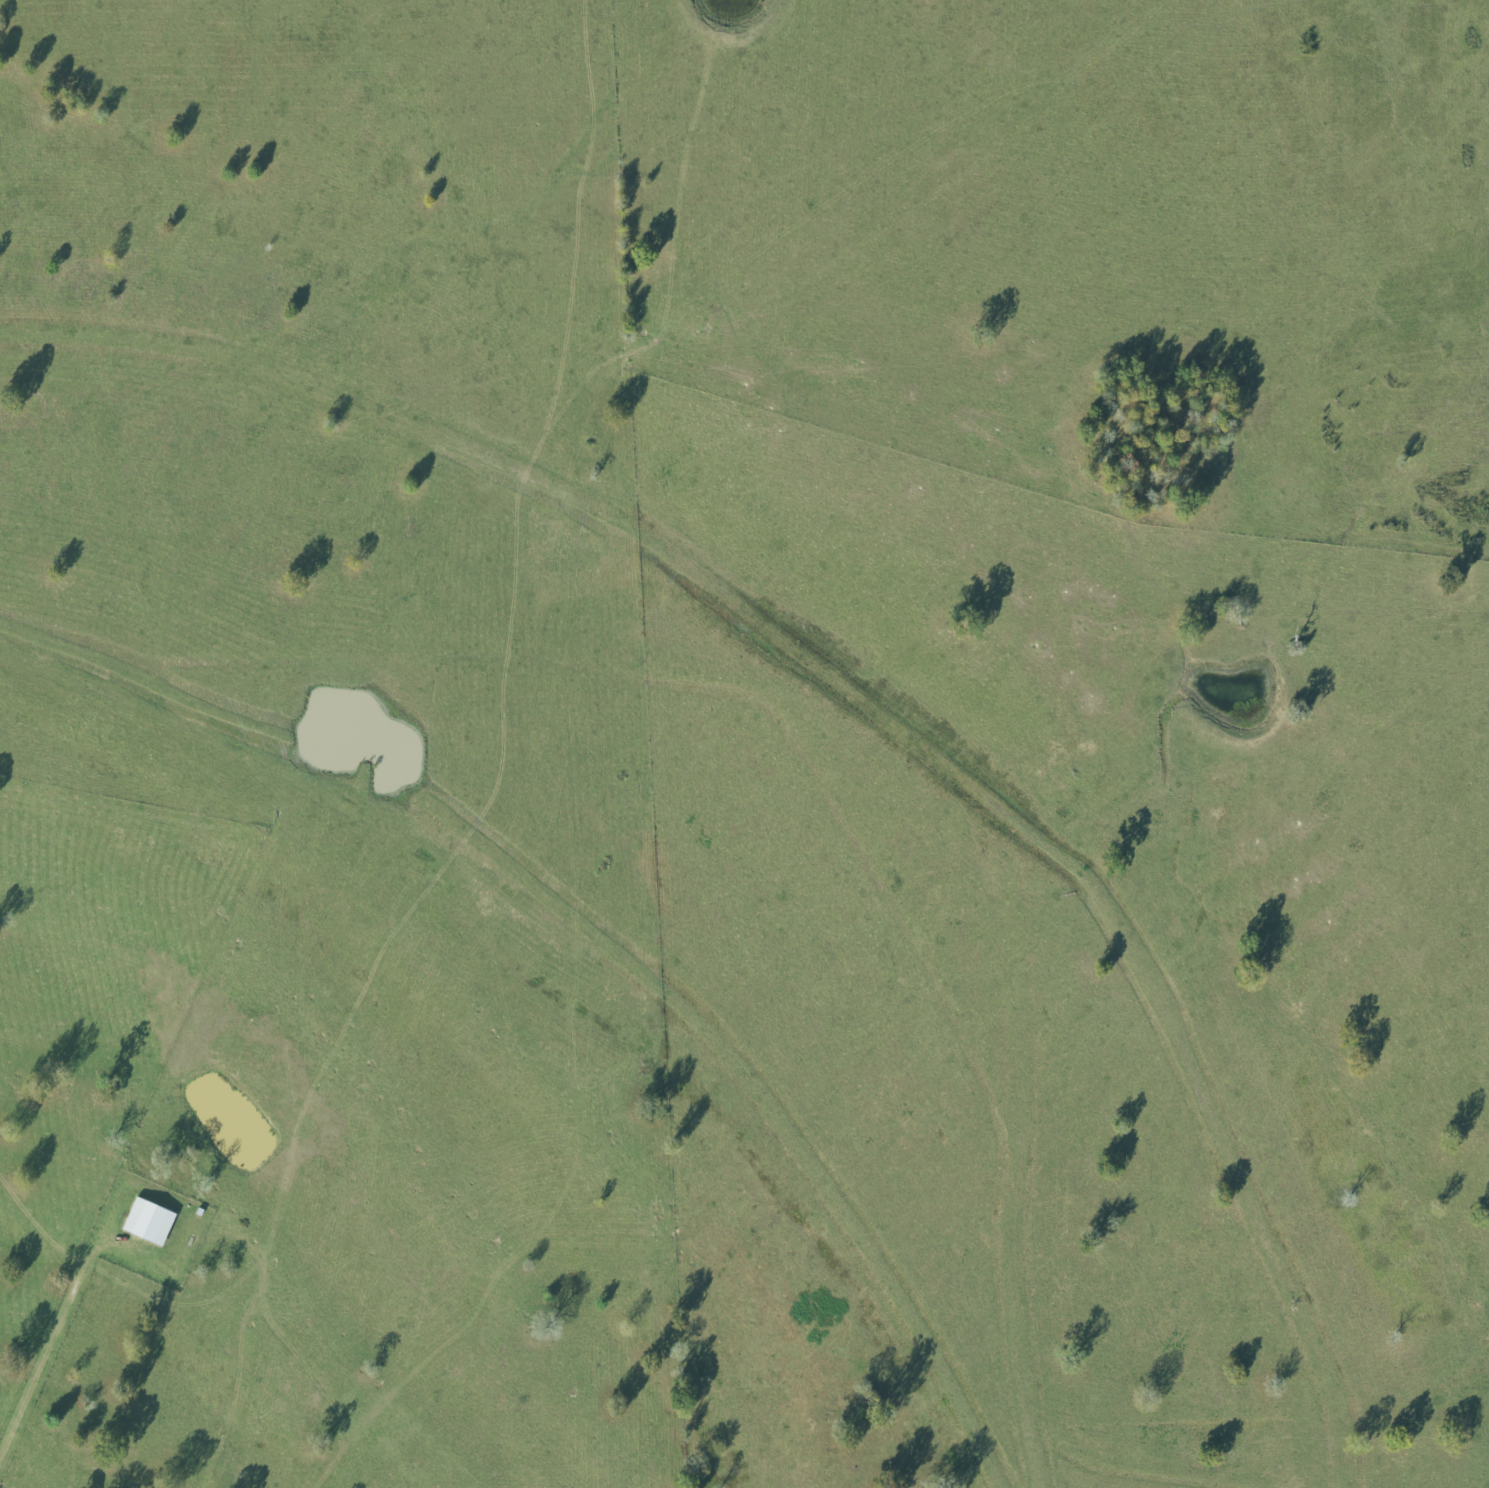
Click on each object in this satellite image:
building: (153, 1221)

